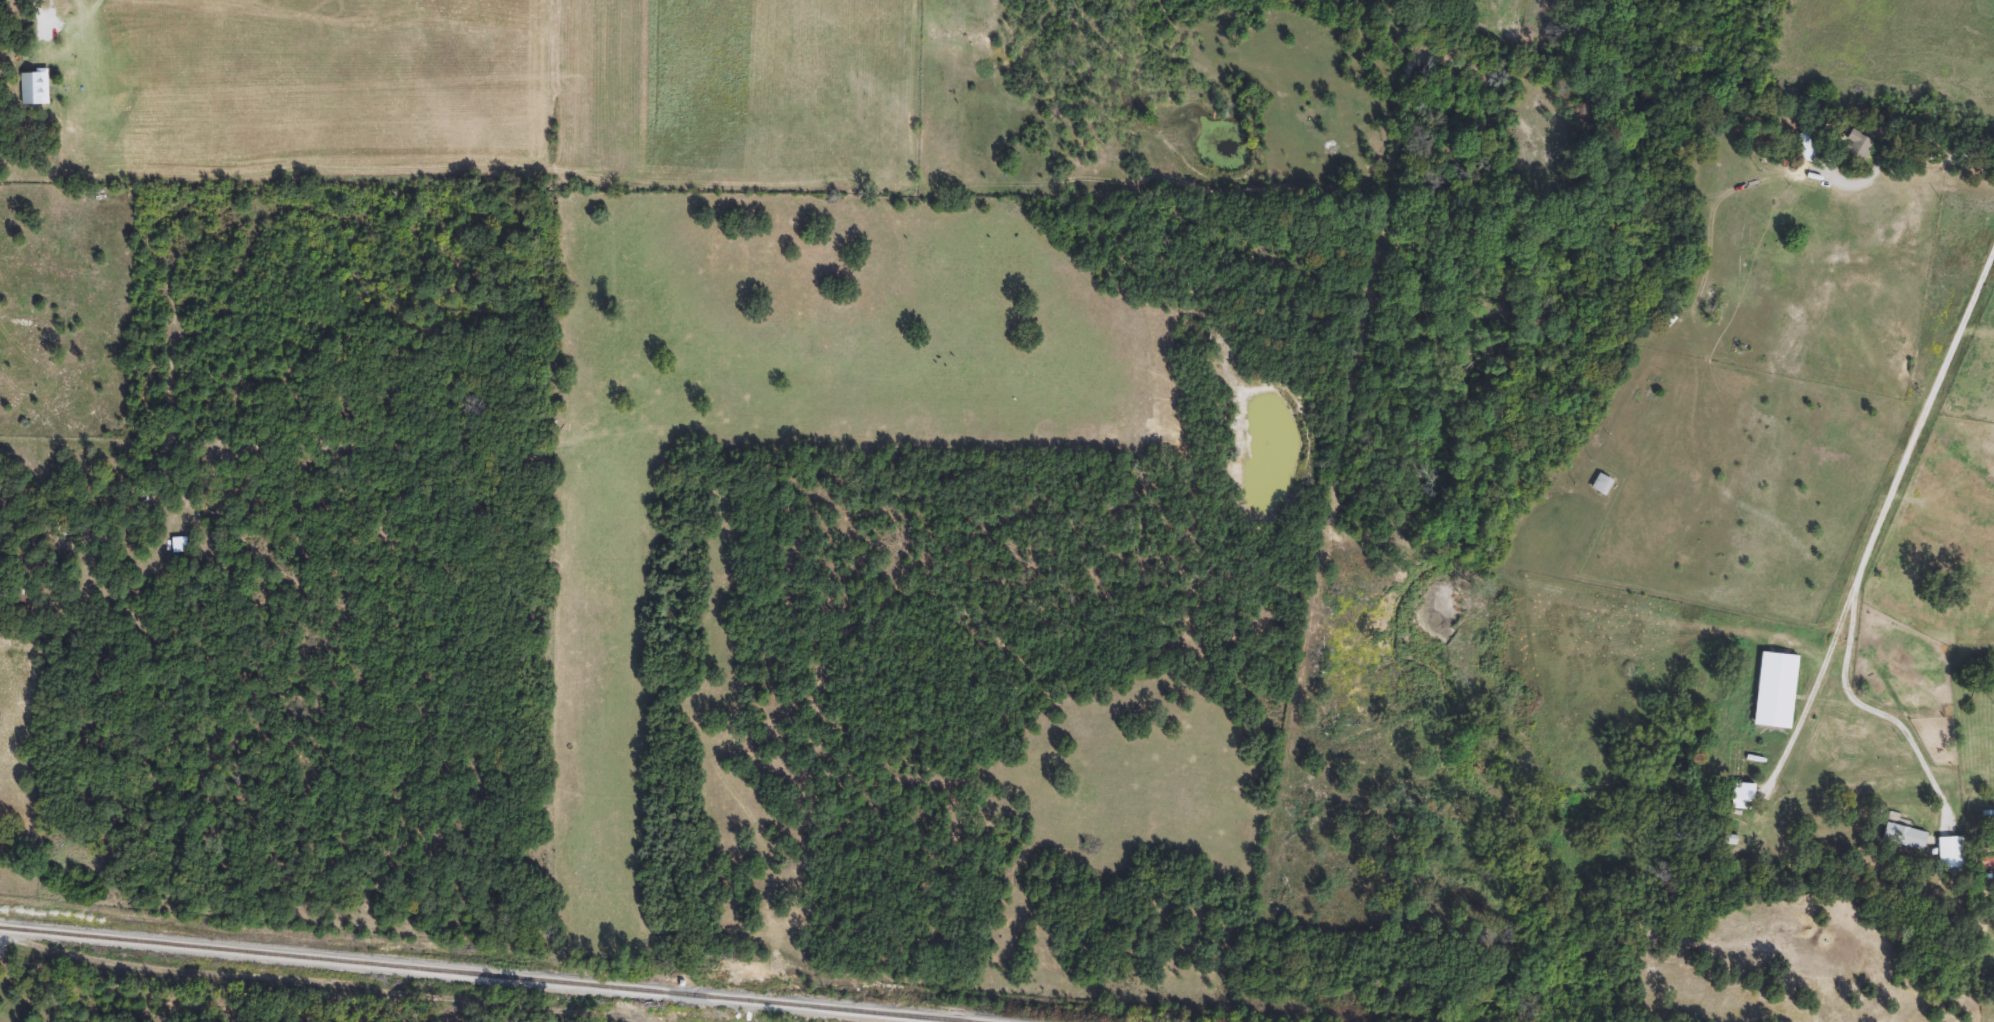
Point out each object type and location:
road: (31, 4)
building: (1853, 147)
building: (1805, 148)
road: (1905, 160)
building: (1600, 485)
road: (1876, 527)
road: (1815, 687)
building: (1741, 799)
building: (1986, 816)
building: (1902, 836)
building: (1986, 843)
building: (1949, 852)
railway: (476, 975)

